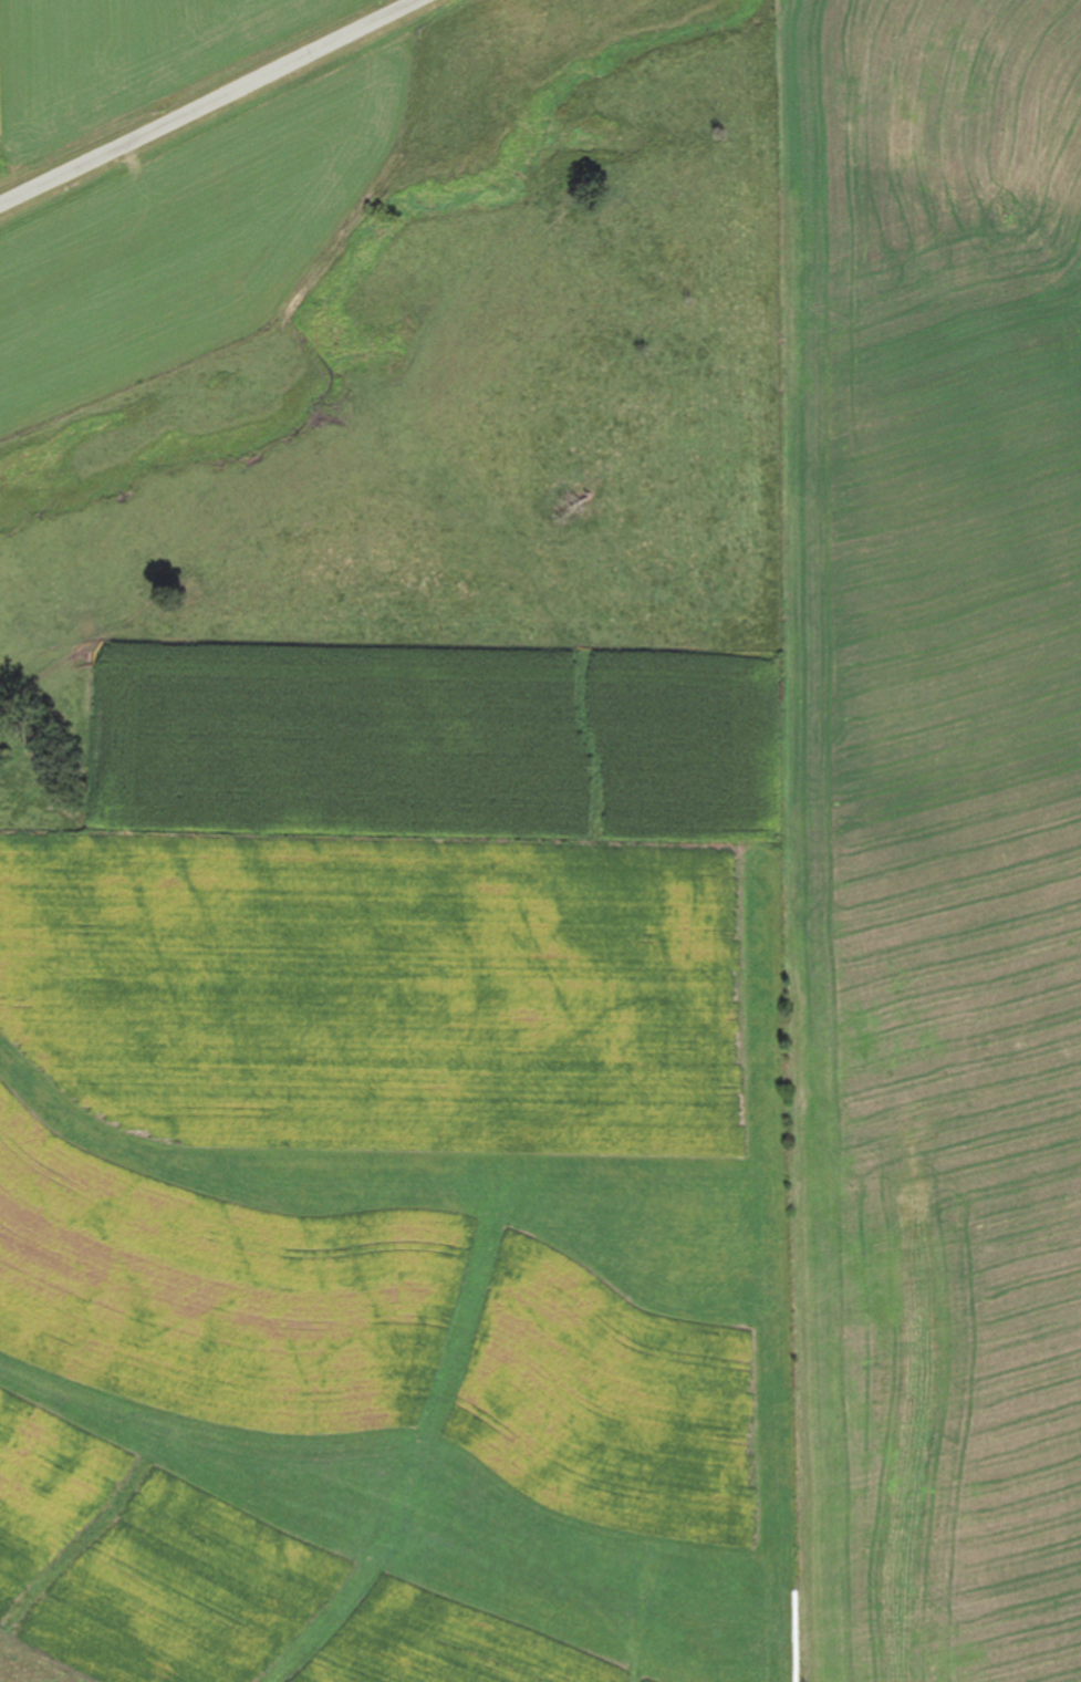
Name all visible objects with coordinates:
road: (214, 102)

